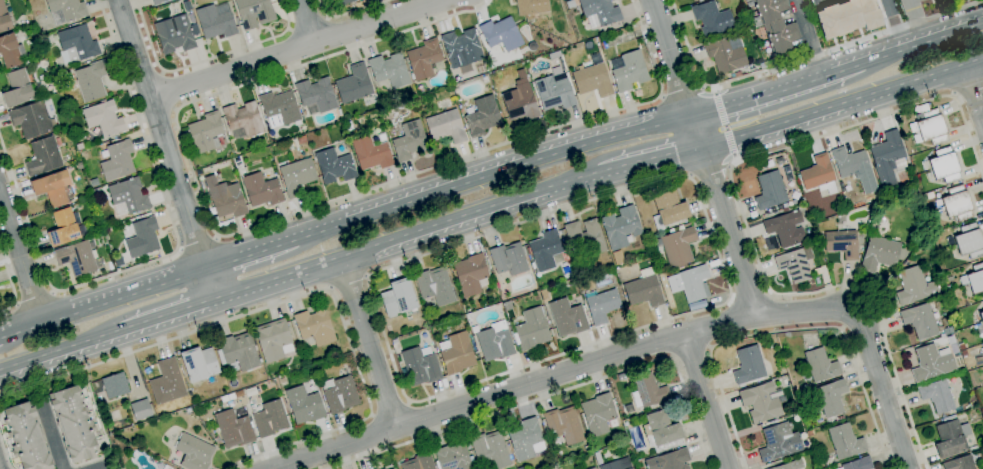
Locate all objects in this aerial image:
building: (272, 0)
building: (691, 0)
building: (694, 0)
building: (700, 0)
building: (922, 0)
building: (157, 1)
road: (817, 1)
building: (346, 2)
road: (934, 2)
building: (362, 4)
building: (570, 4)
building: (186, 6)
building: (531, 6)
building: (65, 10)
building: (254, 12)
road: (348, 12)
building: (599, 12)
building: (846, 17)
building: (4, 19)
building: (712, 19)
building: (215, 21)
building: (237, 21)
road: (305, 22)
road: (915, 22)
building: (774, 24)
road: (894, 25)
building: (747, 30)
building: (501, 34)
building: (174, 35)
road: (808, 39)
building: (43, 40)
building: (77, 43)
road: (922, 44)
building: (603, 45)
building: (461, 48)
road: (297, 49)
building: (9, 51)
building: (726, 54)
building: (424, 59)
road: (204, 61)
road: (800, 62)
building: (25, 63)
building: (389, 70)
building: (628, 70)
building: (738, 74)
building: (593, 78)
building: (91, 80)
building: (354, 84)
building: (17, 89)
road: (967, 90)
building: (554, 91)
road: (682, 91)
road: (973, 91)
road: (169, 92)
road: (777, 92)
building: (316, 96)
building: (520, 100)
road: (842, 102)
building: (279, 107)
building: (339, 112)
building: (482, 116)
building: (103, 118)
building: (30, 119)
building: (243, 120)
building: (348, 126)
building: (929, 126)
building: (445, 127)
building: (205, 132)
building: (301, 139)
building: (409, 141)
road: (166, 149)
building: (371, 154)
building: (43, 157)
road: (704, 157)
road: (650, 158)
building: (888, 158)
building: (116, 160)
building: (849, 162)
building: (944, 165)
building: (79, 166)
building: (334, 166)
road: (516, 167)
road: (710, 172)
building: (818, 175)
building: (296, 176)
building: (93, 182)
building: (51, 187)
building: (261, 190)
building: (770, 191)
building: (95, 192)
building: (912, 194)
building: (128, 196)
building: (225, 200)
building: (957, 203)
building: (669, 207)
building: (783, 210)
road: (742, 215)
road: (264, 224)
building: (63, 227)
building: (620, 227)
building: (785, 229)
road: (321, 232)
building: (561, 233)
road: (406, 234)
building: (585, 236)
building: (142, 237)
building: (969, 241)
road: (197, 242)
building: (842, 243)
building: (677, 245)
building: (878, 249)
building: (545, 250)
road: (251, 255)
road: (164, 257)
road: (21, 258)
building: (78, 258)
building: (618, 258)
building: (508, 259)
building: (906, 263)
building: (795, 264)
building: (818, 271)
building: (470, 274)
building: (924, 274)
building: (974, 279)
building: (689, 282)
road: (348, 283)
road: (11, 284)
building: (434, 286)
building: (914, 286)
building: (947, 288)
building: (644, 289)
building: (543, 294)
road: (33, 297)
road: (298, 297)
building: (398, 298)
road: (750, 298)
road: (728, 300)
road: (103, 304)
building: (602, 306)
road: (168, 314)
building: (567, 317)
building: (920, 320)
building: (980, 322)
building: (315, 327)
building: (531, 329)
building: (947, 331)
road: (785, 333)
road: (0, 339)
building: (274, 339)
building: (950, 339)
building: (394, 341)
building: (495, 342)
road: (367, 343)
building: (961, 346)
road: (60, 349)
building: (237, 352)
building: (456, 353)
road: (690, 353)
building: (963, 353)
building: (343, 358)
building: (931, 363)
building: (199, 364)
building: (748, 365)
building: (820, 365)
building: (419, 367)
building: (645, 368)
building: (783, 372)
road: (561, 373)
building: (766, 379)
building: (167, 382)
building: (114, 385)
road: (881, 389)
building: (648, 391)
building: (250, 392)
road: (554, 393)
building: (238, 394)
building: (339, 394)
building: (937, 395)
building: (230, 396)
building: (224, 398)
building: (831, 398)
road: (705, 400)
building: (761, 402)
building: (304, 405)
road: (389, 408)
building: (628, 408)
building: (140, 409)
building: (597, 414)
building: (839, 417)
building: (268, 418)
building: (949, 418)
building: (73, 424)
building: (563, 425)
building: (233, 429)
building: (662, 430)
building: (26, 437)
road: (52, 438)
building: (525, 439)
building: (951, 439)
building: (845, 442)
building: (778, 443)
building: (973, 448)
building: (490, 449)
building: (587, 450)
building: (193, 452)
building: (453, 457)
building: (597, 458)
building: (669, 460)
building: (418, 462)
building: (959, 463)
building: (616, 464)
building: (858, 464)
building: (484, 465)
building: (791, 465)
road: (0, 467)
building: (383, 468)
building: (392, 468)
building: (552, 468)
building: (592, 468)
building: (593, 468)

